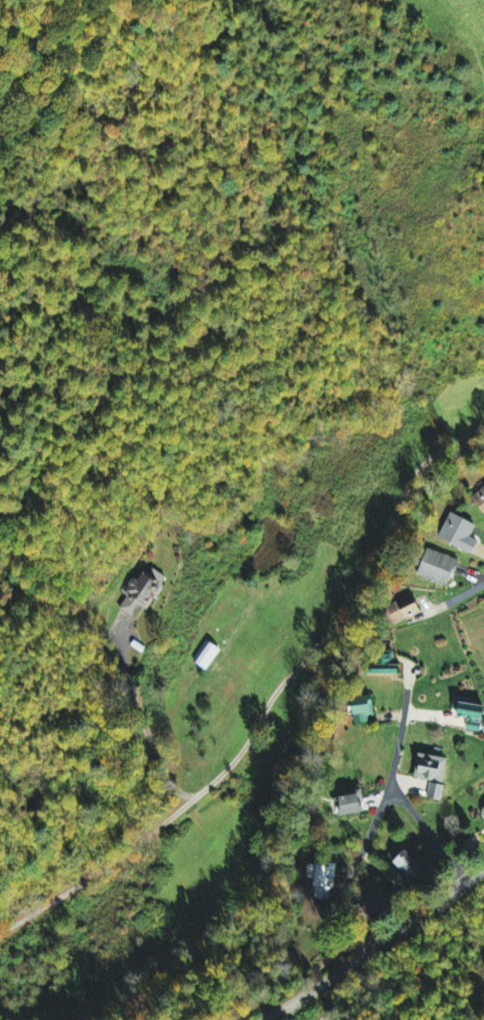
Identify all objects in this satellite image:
building: (480, 500)
building: (461, 534)
building: (440, 569)
road: (468, 577)
building: (144, 593)
building: (406, 610)
building: (208, 655)
road: (266, 673)
building: (367, 709)
road: (143, 716)
building: (474, 716)
road: (418, 759)
building: (433, 769)
road: (387, 787)
building: (437, 792)
building: (353, 805)
building: (483, 811)
building: (409, 866)
building: (323, 881)
road: (364, 926)

